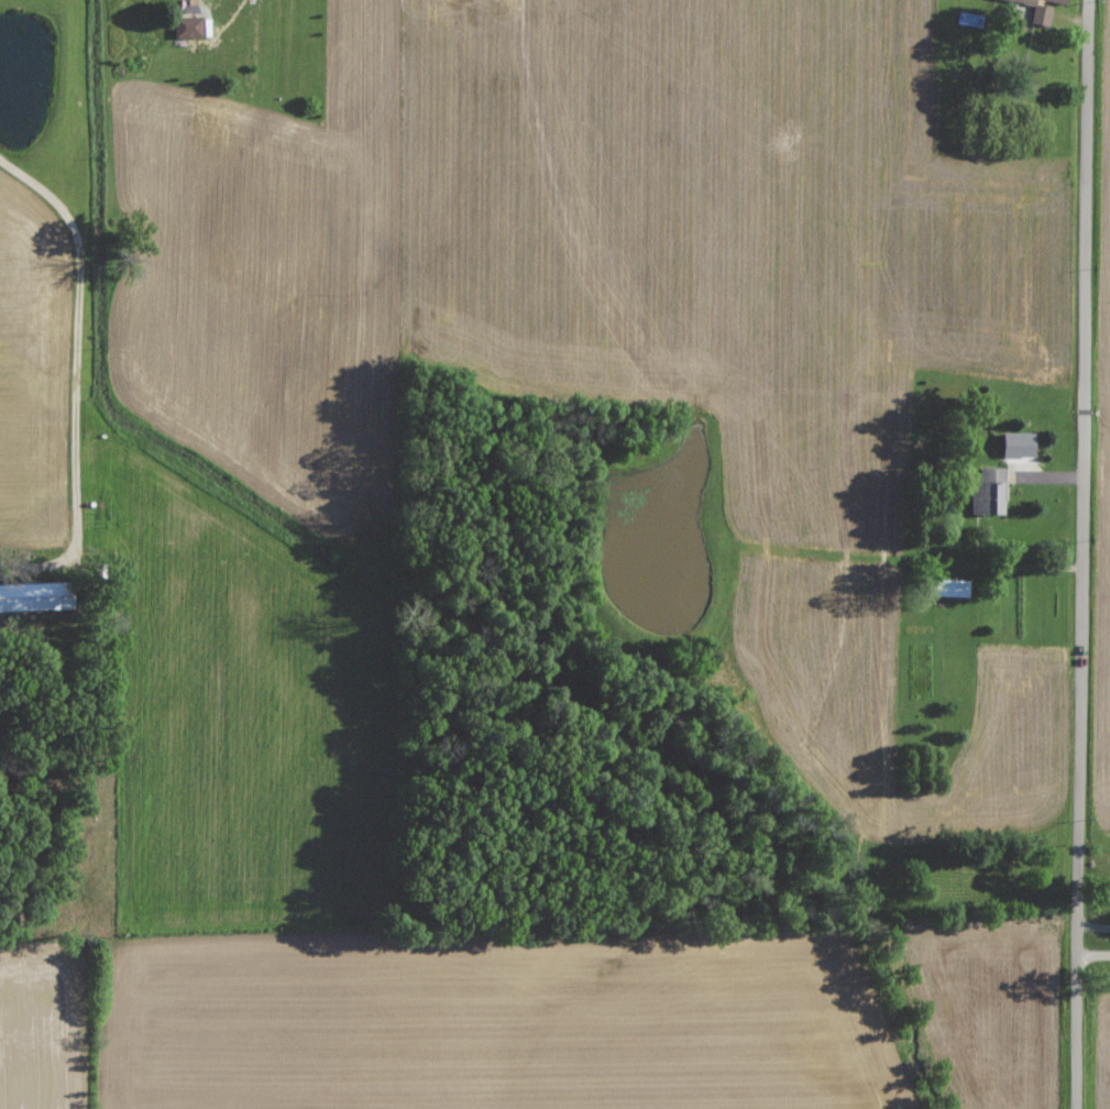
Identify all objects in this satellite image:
building: (1043, 9)
building: (191, 28)
building: (992, 493)
road: (1087, 554)
building: (958, 589)
building: (39, 597)

